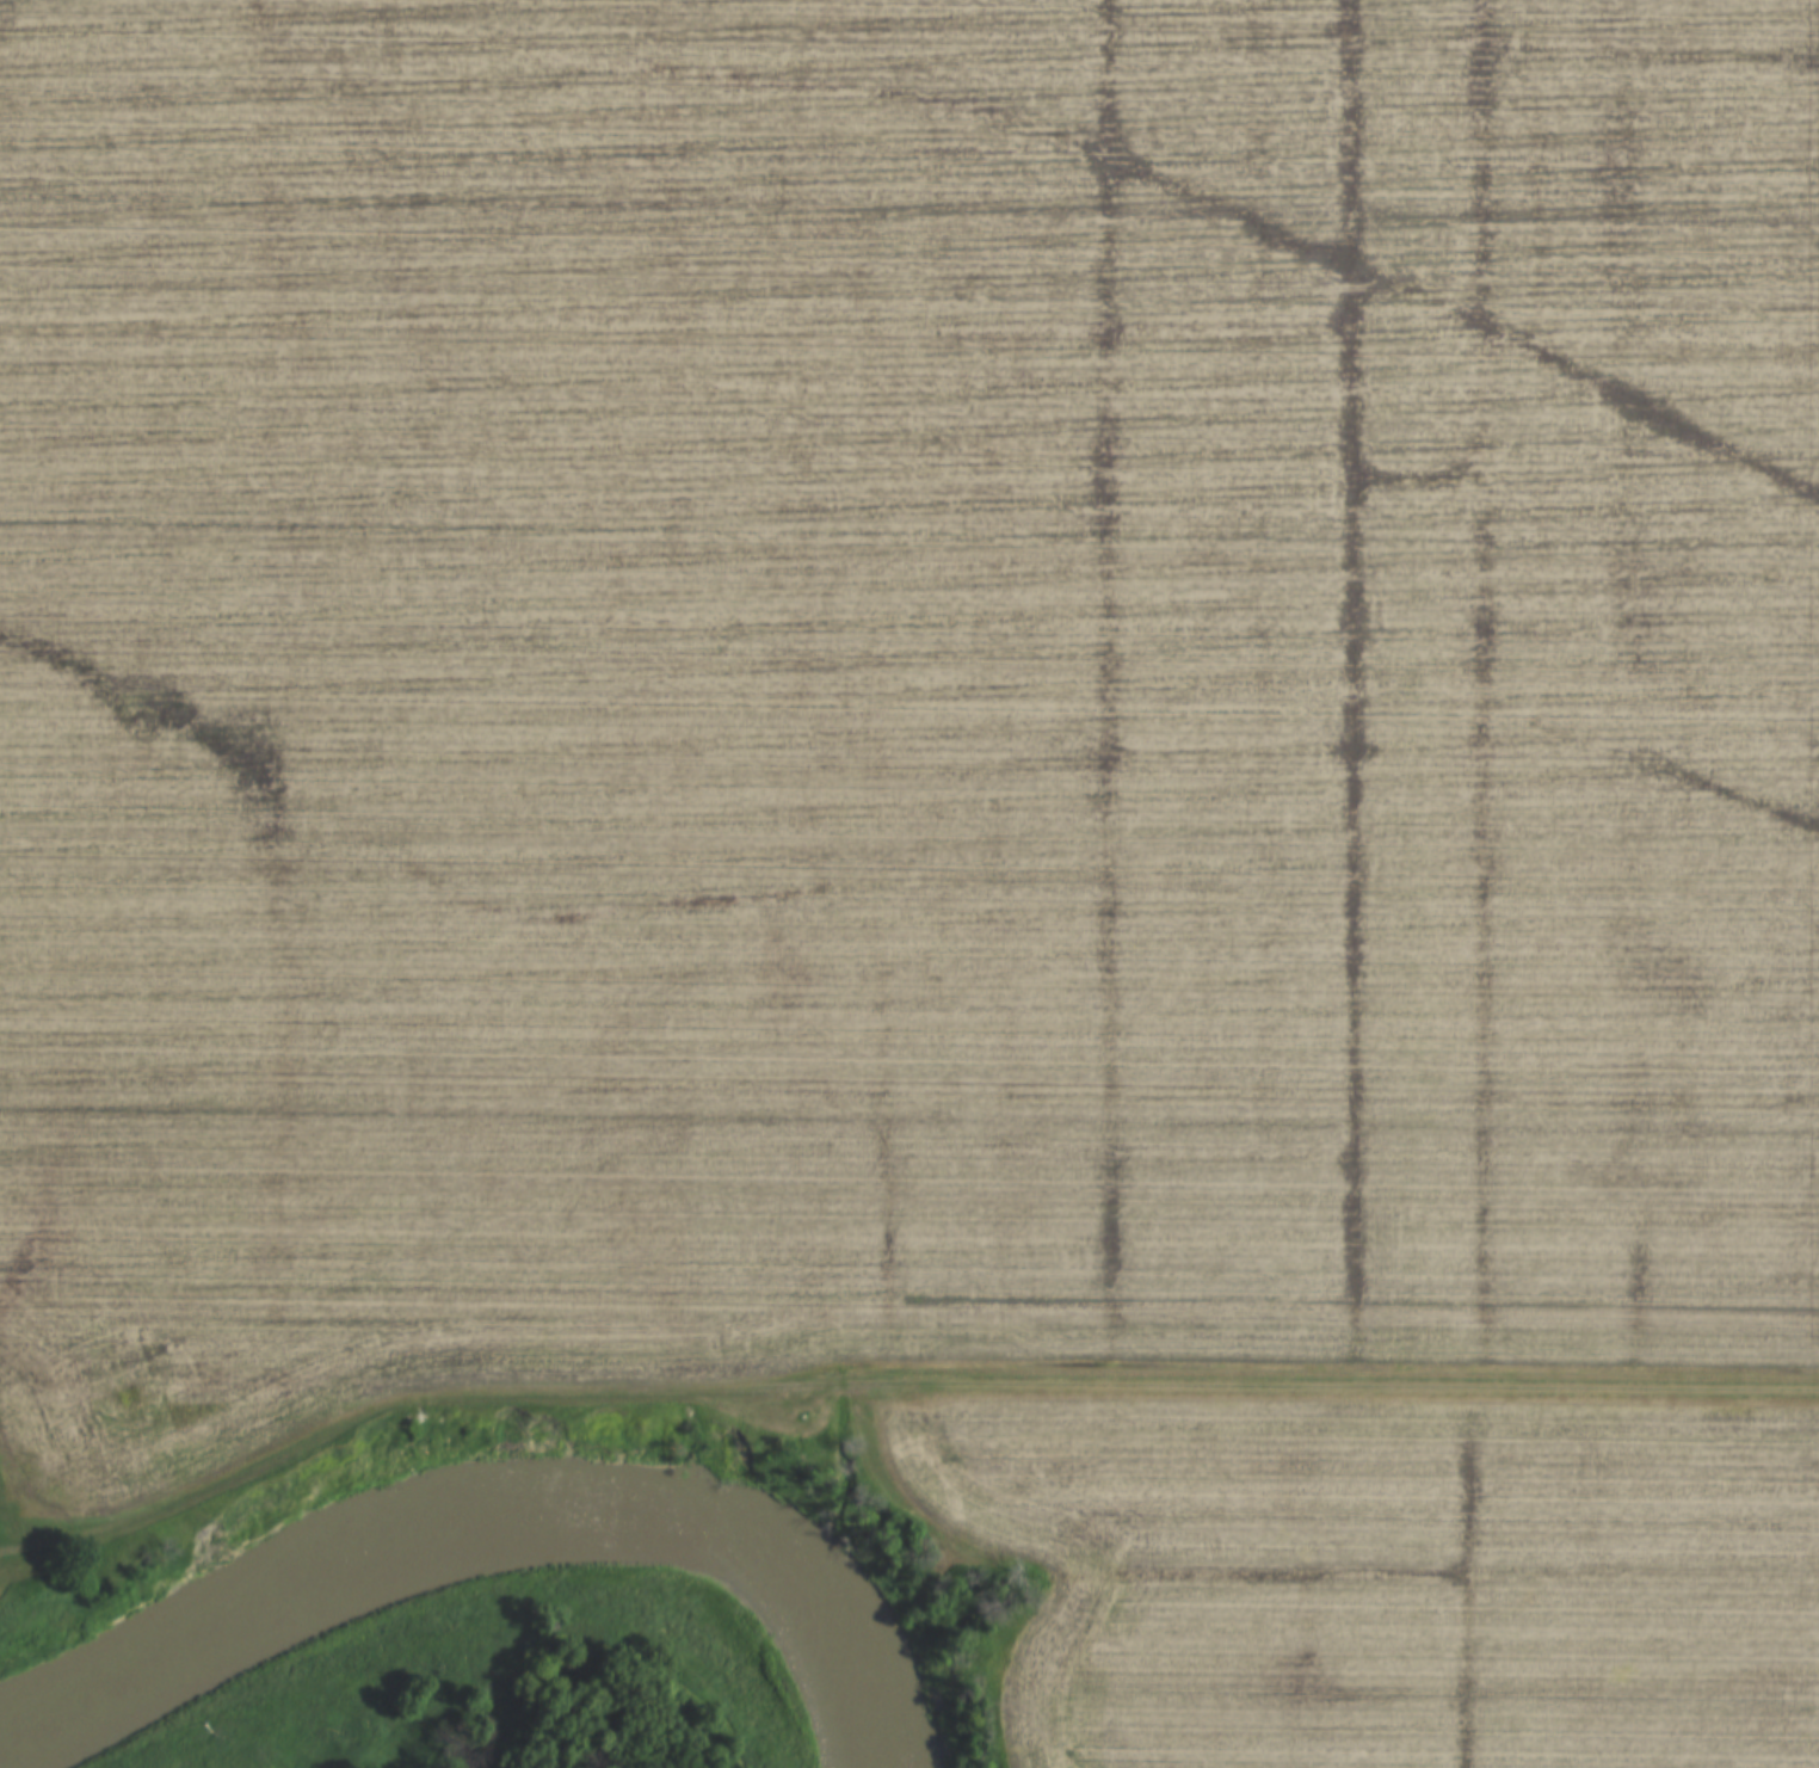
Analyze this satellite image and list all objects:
road: (896, 1357)
river: (465, 1541)

